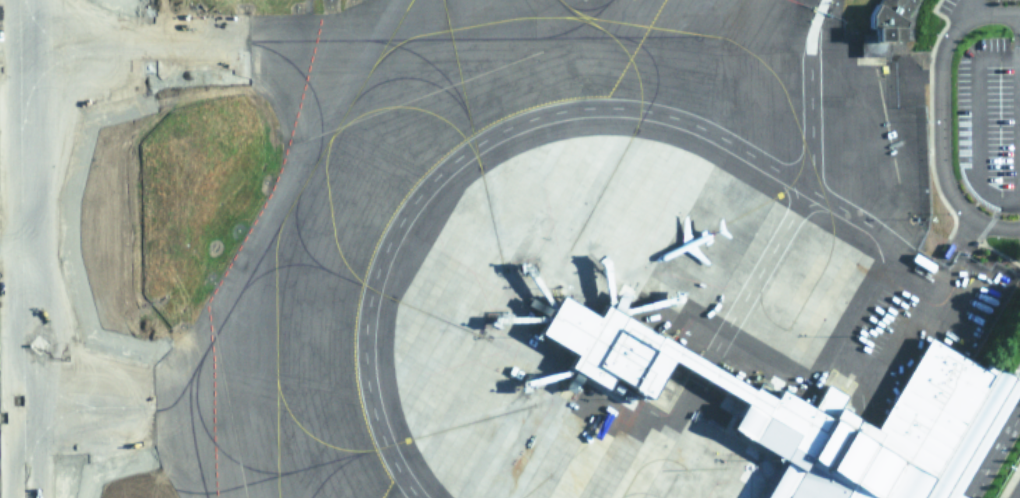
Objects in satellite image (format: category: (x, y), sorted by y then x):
airport apron: (753, 8)
airport taxiway: (583, 12)
road: (963, 15)
building: (885, 27)
airport taxiway: (314, 41)
airport taxiway: (400, 47)
airport taxiway: (384, 56)
airport taxiway: (446, 78)
airport taxiway: (426, 81)
airport taxiway: (311, 89)
airport taxiway: (360, 96)
airport taxiway: (786, 110)
airport taxiway: (645, 111)
road: (1019, 112)
road: (562, 113)
road: (939, 121)
parking lot: (988, 125)
road: (976, 130)
airport taxiway: (470, 134)
airport taxiway: (294, 216)
airport taxiway: (267, 240)
airport taxiway: (21, 248)
airport taxiway: (48, 249)
airport: (510, 249)
airport taxiway: (282, 265)
airport taxiway: (388, 295)
airport apron: (737, 320)
airport taxiway: (47, 356)
airport taxiway: (182, 393)
airport taxiway: (114, 410)
airport terminal: (812, 411)
building: (812, 411)
airport taxiway: (83, 424)
airport taxiway: (414, 440)
airport taxiway: (218, 444)
road: (993, 452)
crop: (75, 480)
airport taxiway: (255, 483)
airport taxiway: (535, 485)

